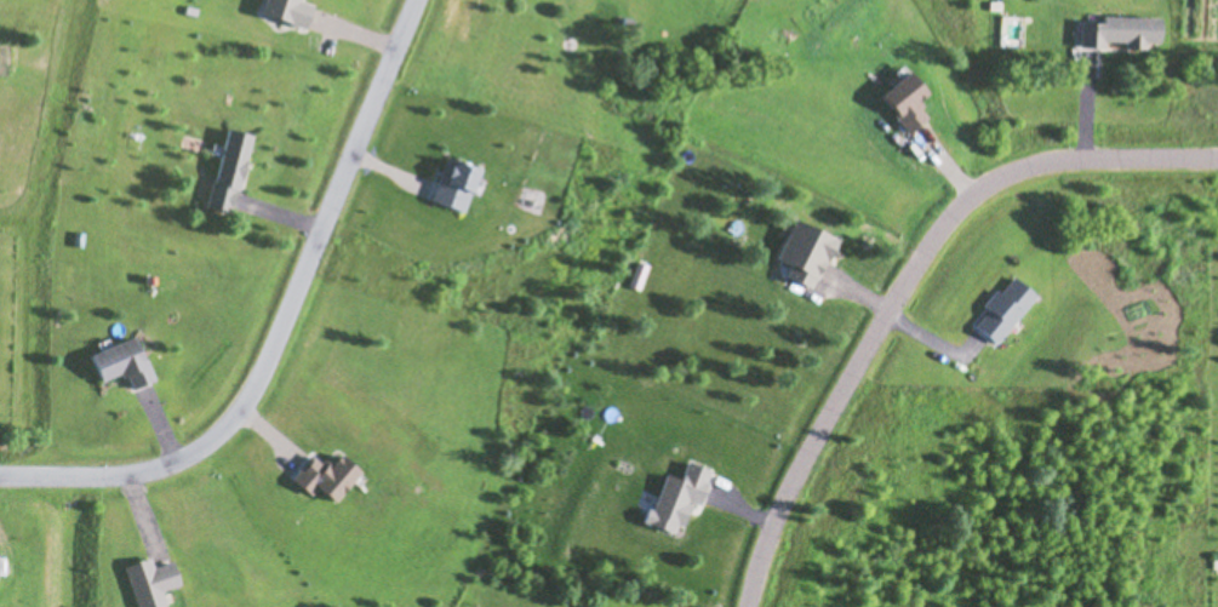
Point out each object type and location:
building: (1119, 30)
building: (228, 170)
building: (806, 252)
road: (905, 277)
road: (275, 322)
building: (121, 362)

